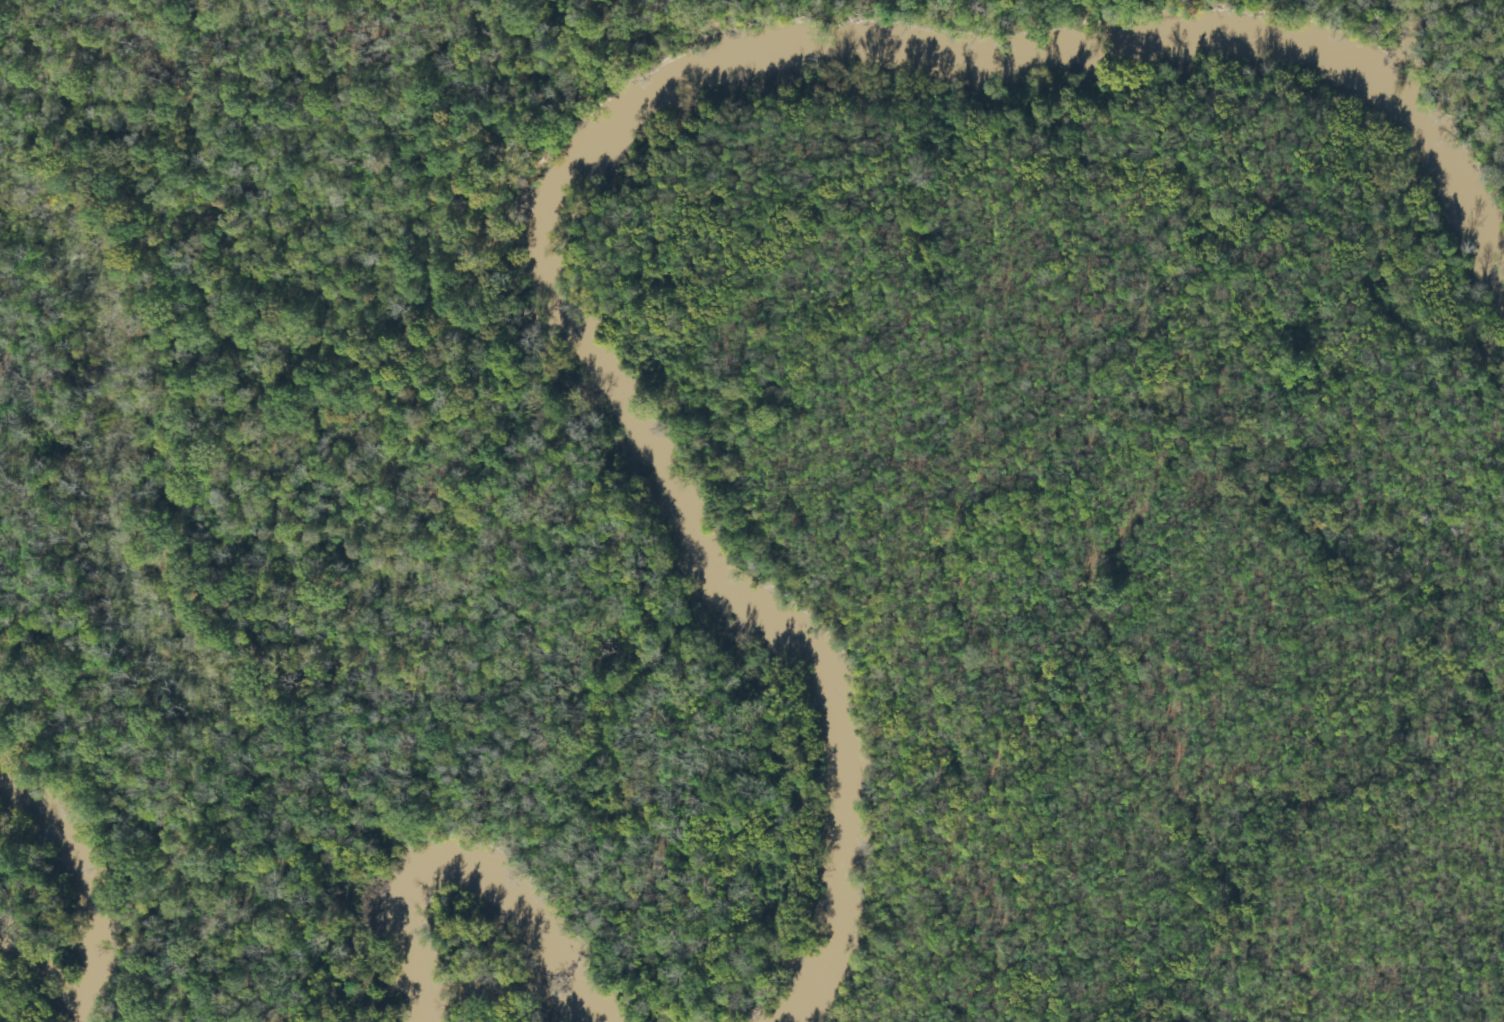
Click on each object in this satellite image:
river: (617, 128)
river: (460, 862)
river: (87, 881)

